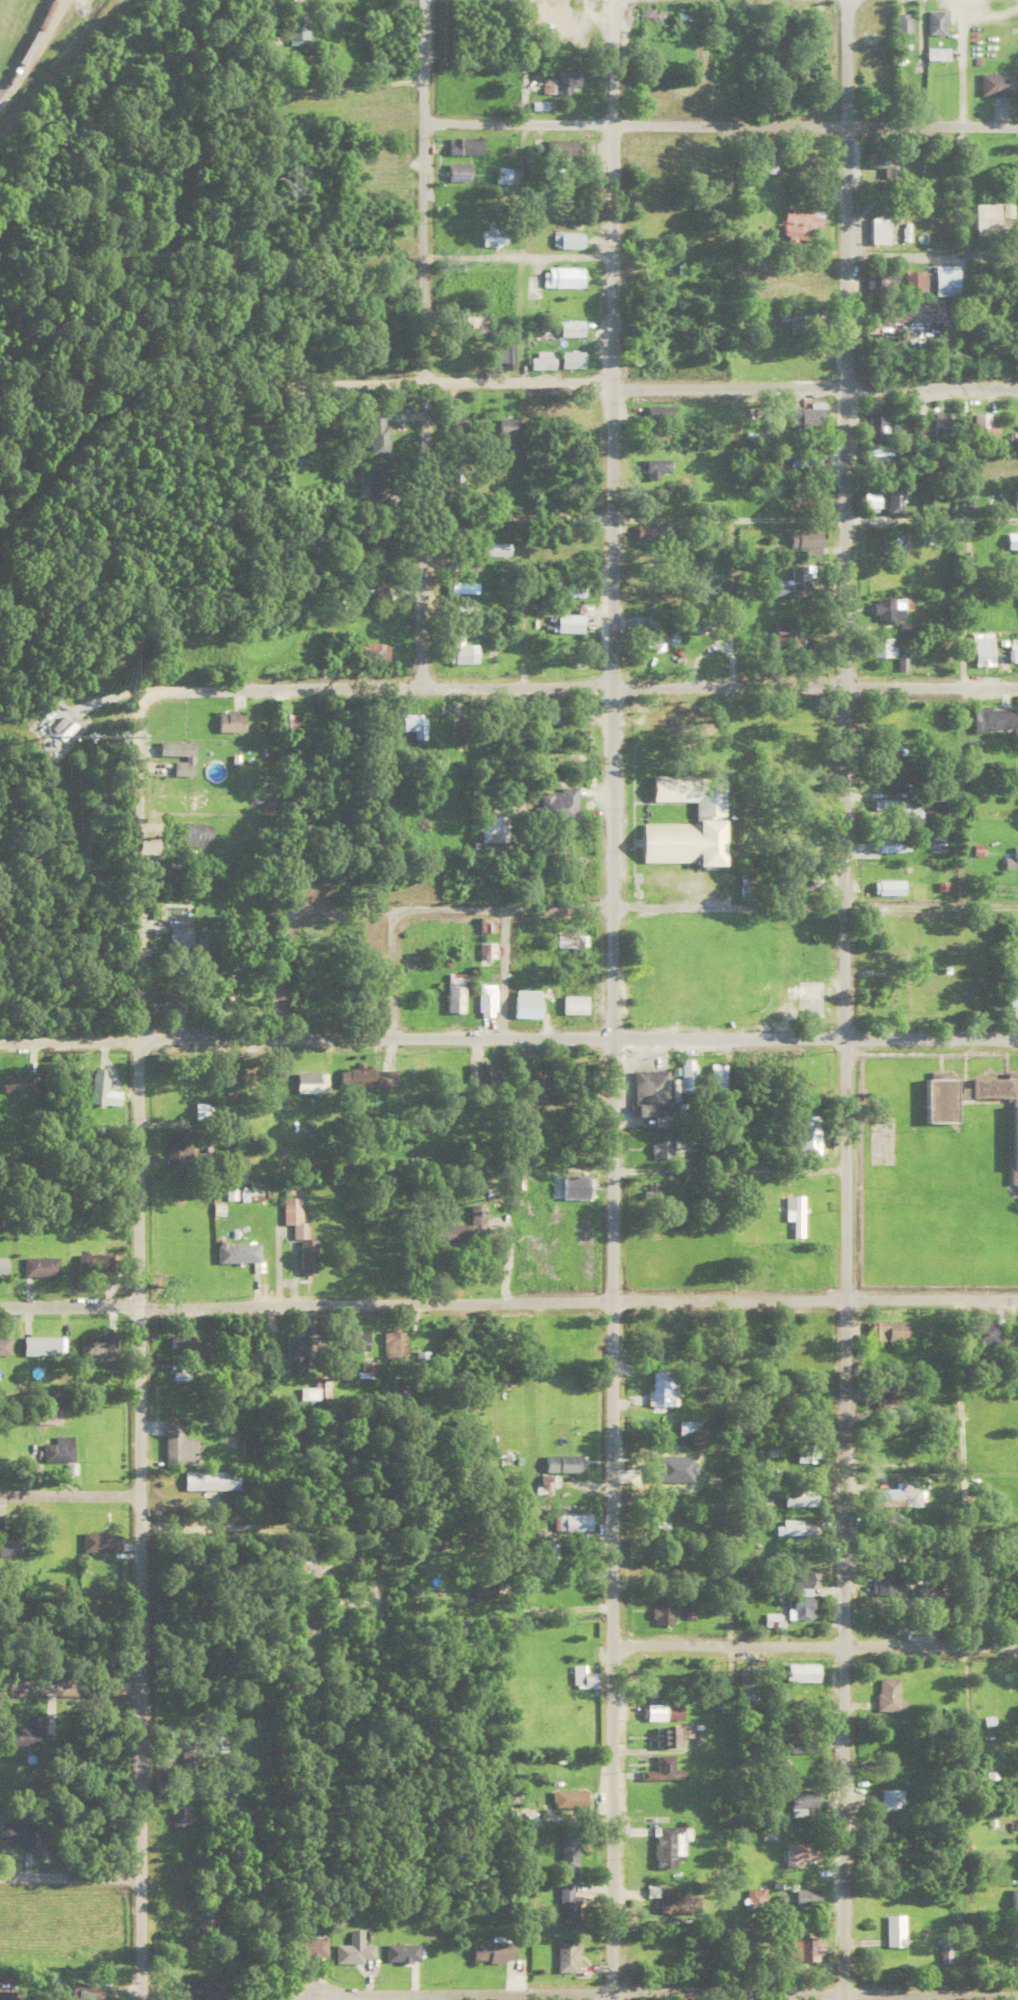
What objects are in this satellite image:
railway: (28, 46)
road: (36, 51)
road: (307, 84)
road: (719, 119)
road: (931, 252)
road: (515, 253)
road: (421, 342)
road: (509, 378)
road: (516, 401)
road: (727, 401)
road: (516, 513)
road: (868, 513)
road: (574, 682)
road: (520, 738)
road: (519, 904)
road: (776, 904)
road: (332, 905)
road: (502, 970)
road: (844, 999)
road: (610, 1000)
road: (814, 1034)
road: (305, 1036)
road: (727, 1165)
road: (508, 1297)
road: (137, 1352)
road: (69, 1494)
road: (329, 1499)
road: (236, 1523)
road: (346, 1573)
road: (814, 1642)
road: (71, 1685)
road: (71, 1876)
road: (814, 1987)
road: (465, 1991)

